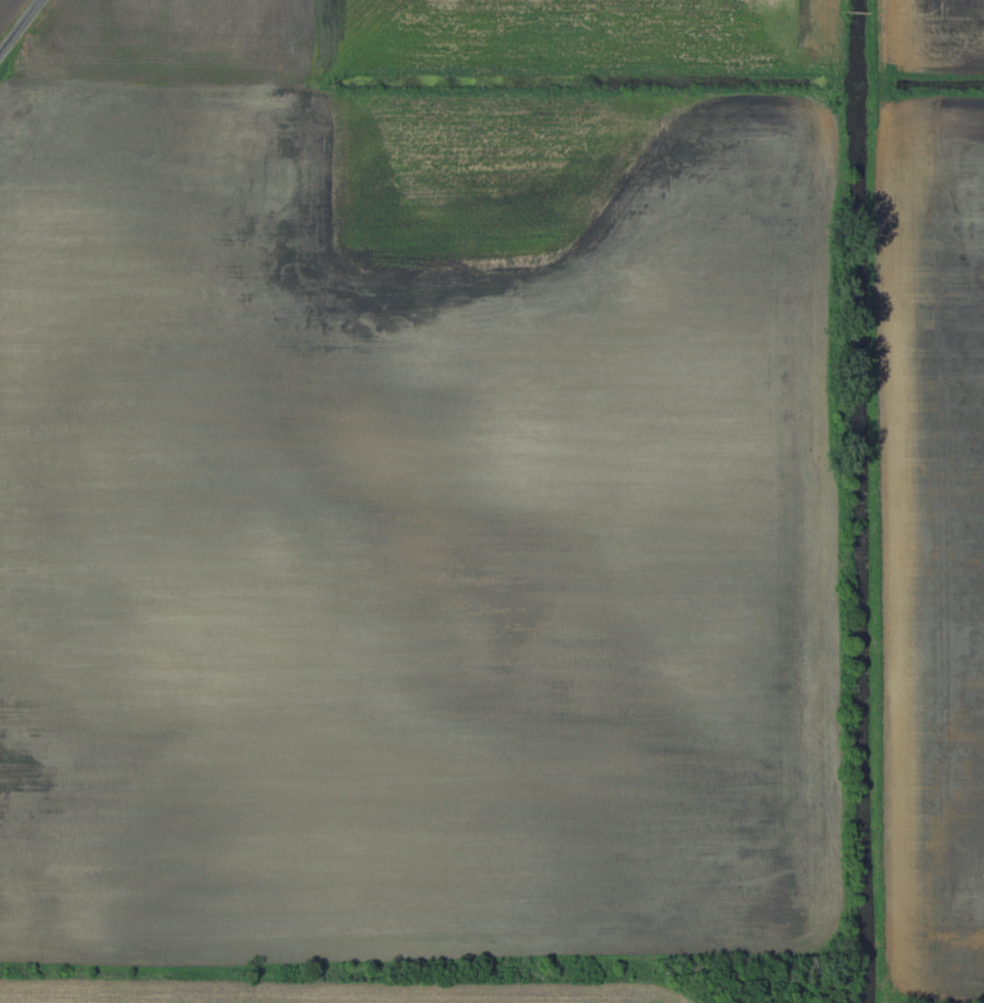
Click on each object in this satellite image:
road: (18, 24)

